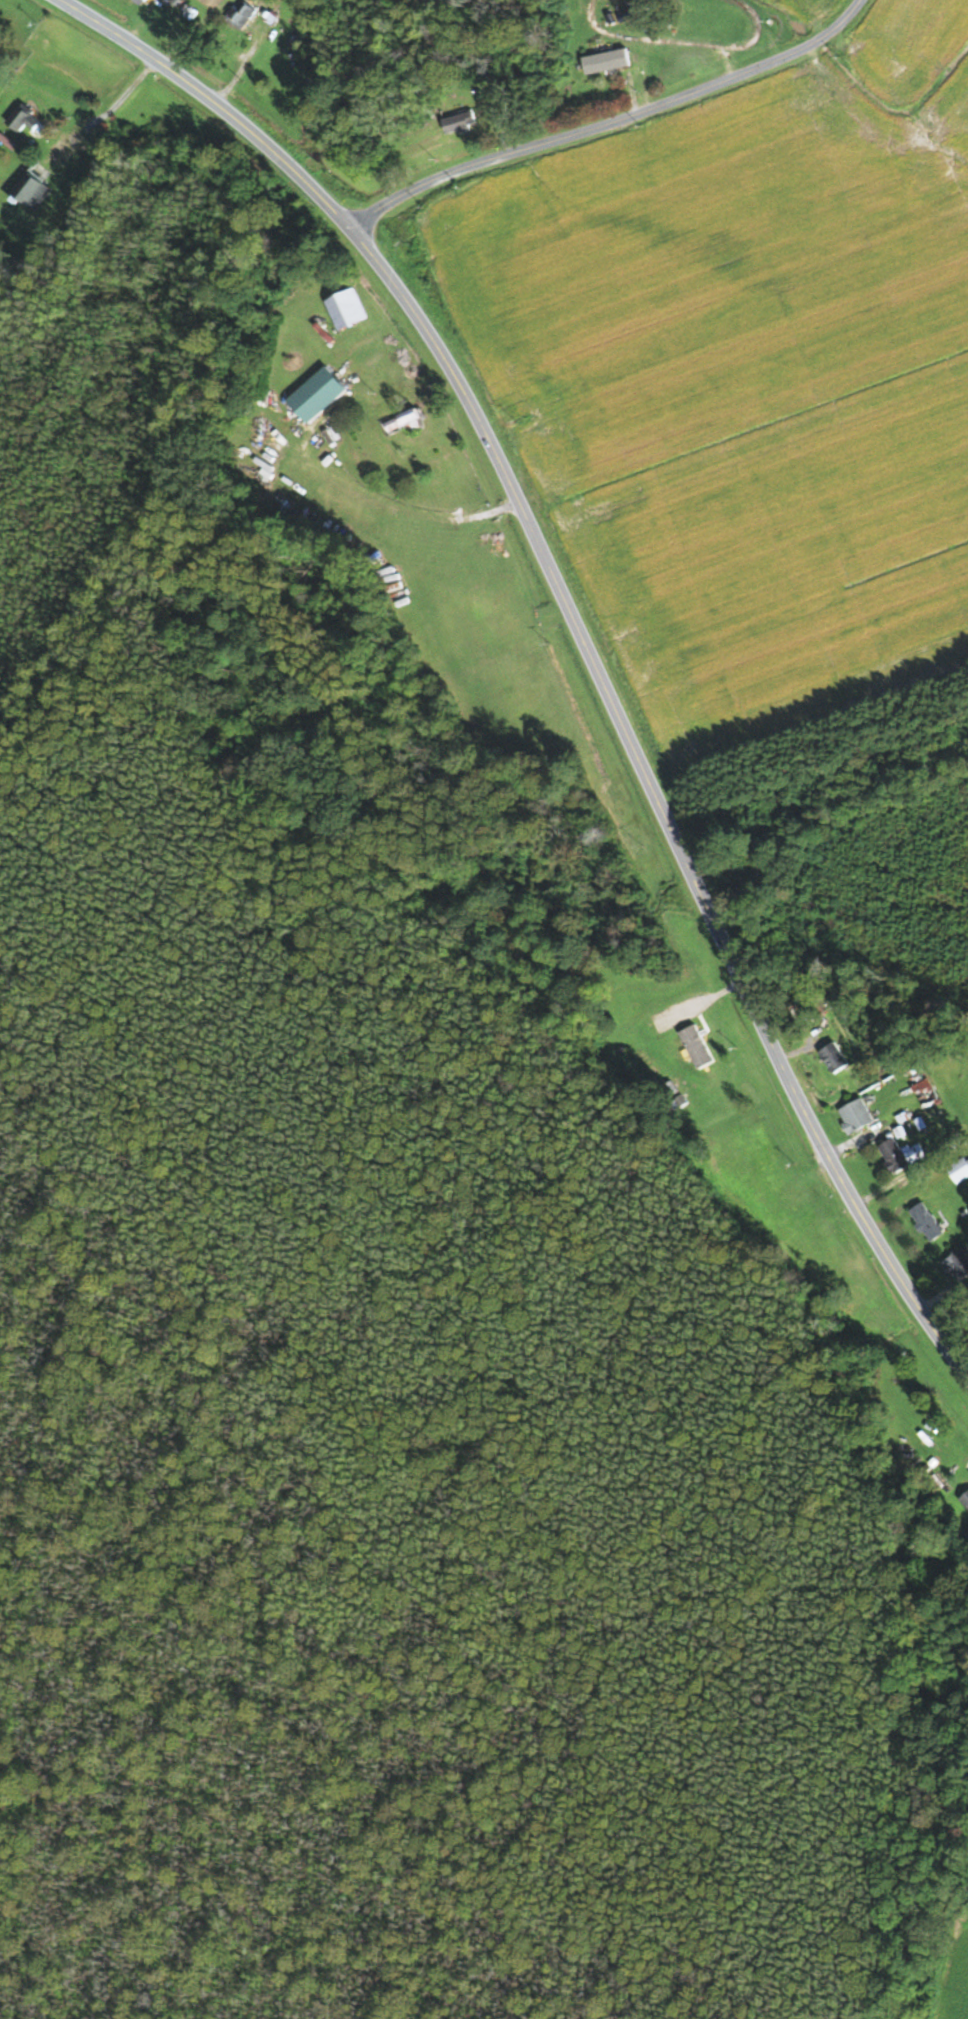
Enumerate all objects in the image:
building: (139, 0)
building: (240, 14)
building: (600, 62)
building: (310, 78)
road: (108, 111)
building: (22, 119)
building: (459, 122)
road: (611, 128)
building: (31, 190)
building: (345, 309)
building: (404, 422)
road: (577, 638)
building: (696, 1045)
building: (833, 1056)
building: (924, 1090)
building: (855, 1114)
building: (899, 1154)
building: (959, 1169)
building: (926, 1220)
building: (958, 1263)
building: (965, 1500)

